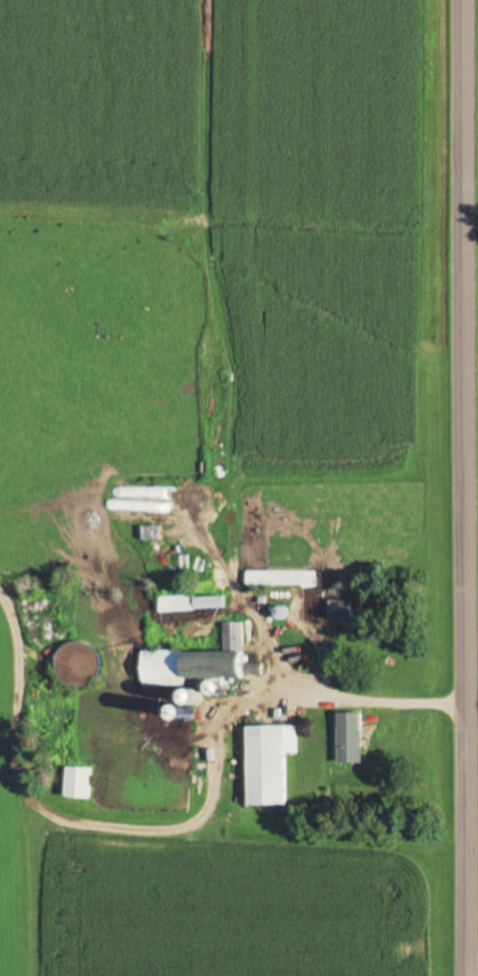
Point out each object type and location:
road: (456, 488)
building: (273, 578)
building: (190, 604)
building: (339, 610)
building: (194, 662)
building: (210, 689)
building: (348, 739)
building: (267, 764)
building: (77, 783)

